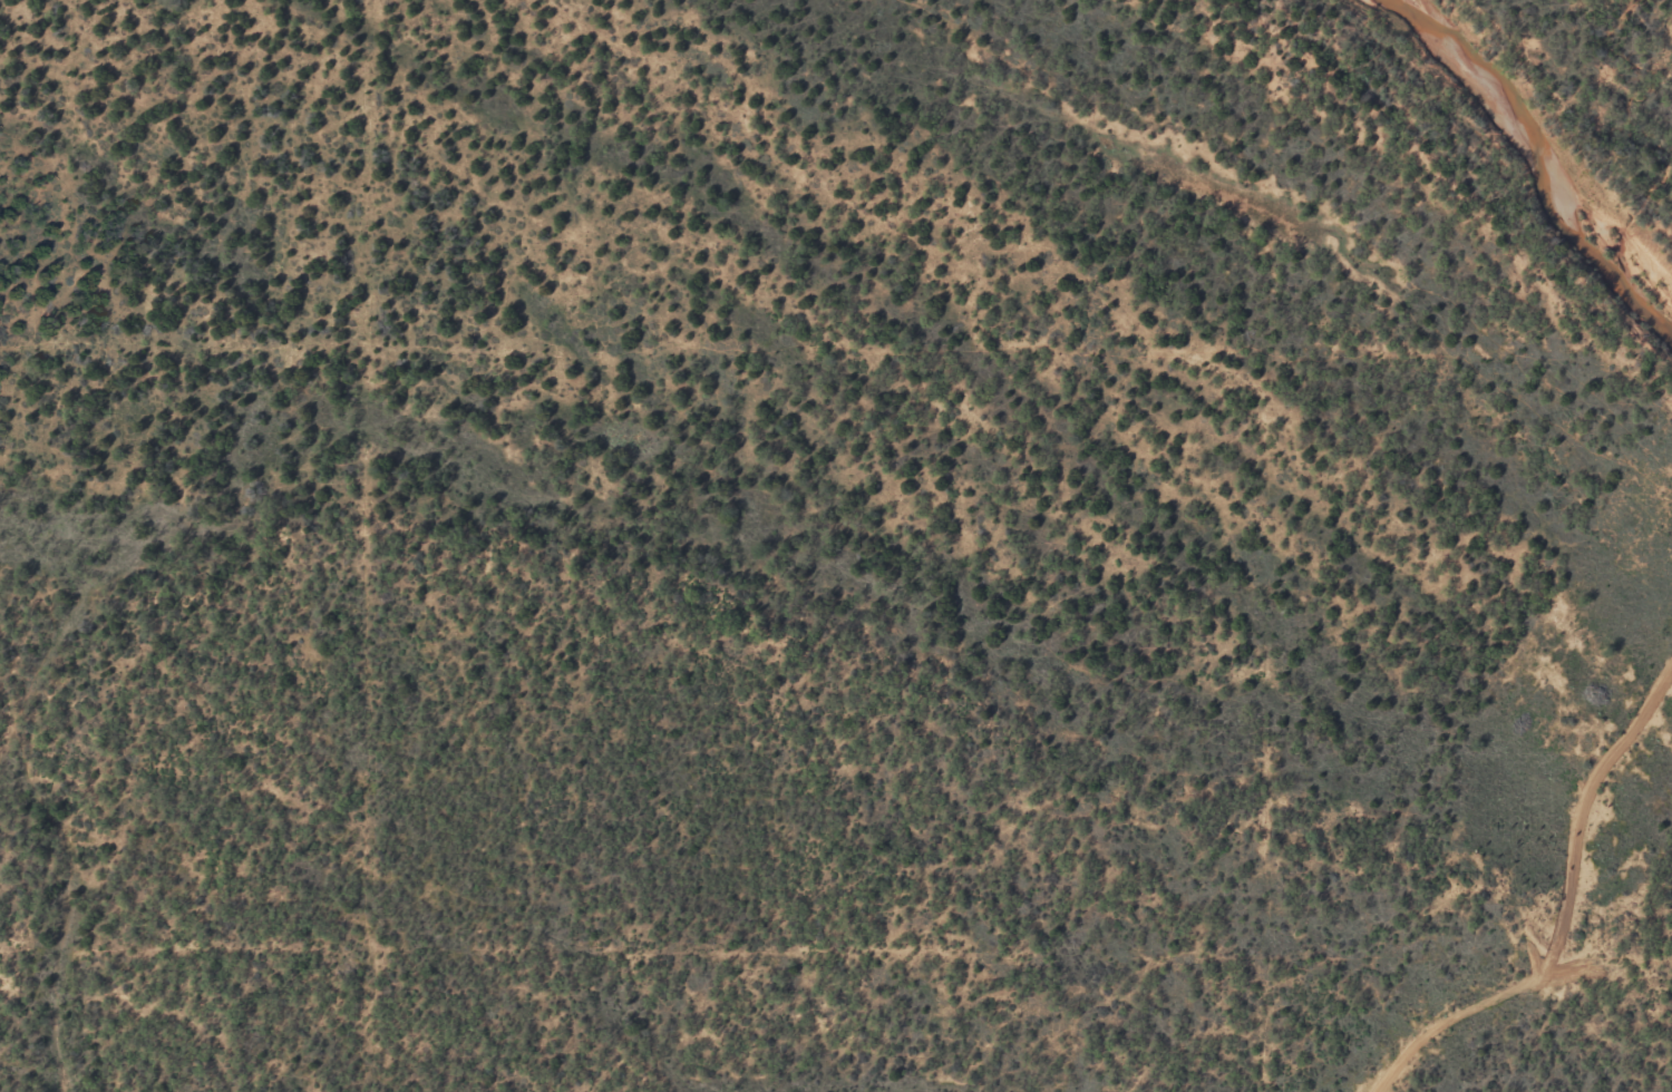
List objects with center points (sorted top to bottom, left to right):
river: (1540, 149)
road: (1548, 894)

